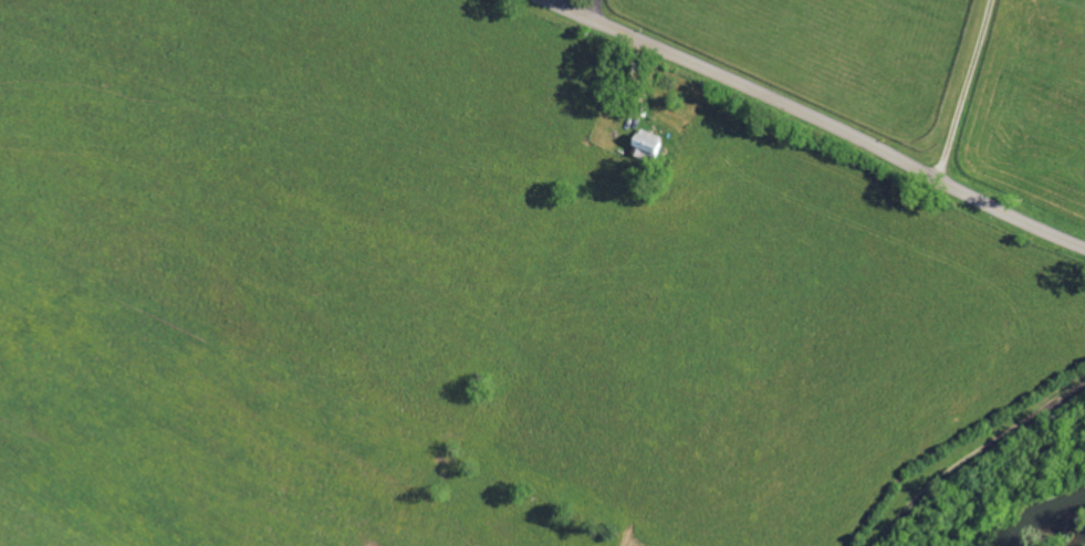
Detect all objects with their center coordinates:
road: (595, 9)
road: (964, 90)
road: (820, 118)
building: (646, 144)
road: (974, 456)
river: (1051, 525)

